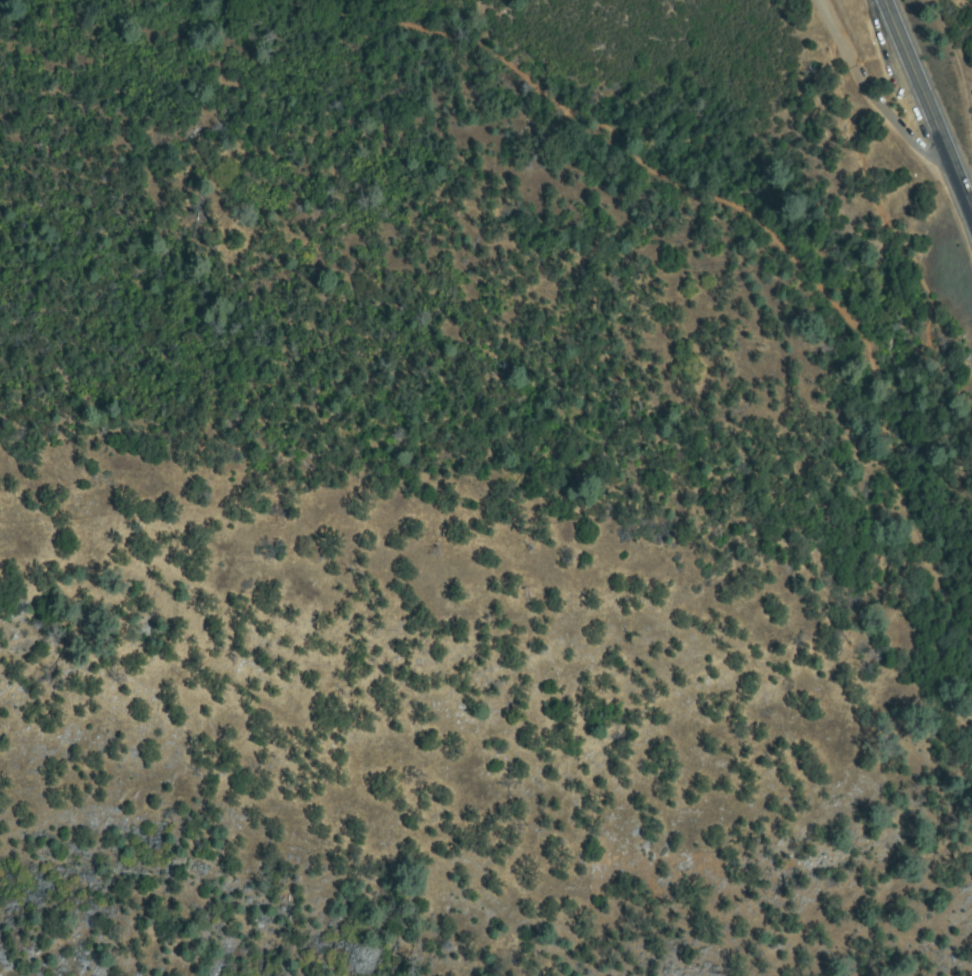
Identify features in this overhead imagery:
road: (871, 92)
road: (929, 108)
road: (772, 239)

